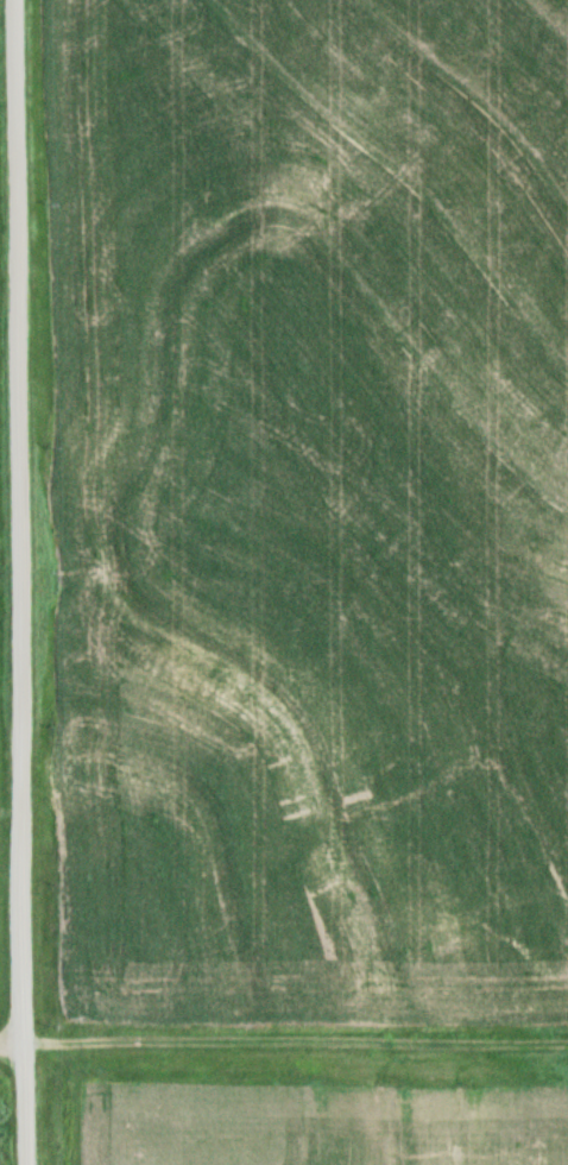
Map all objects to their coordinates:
road: (27, 581)
road: (15, 1050)
crop: (321, 1126)

